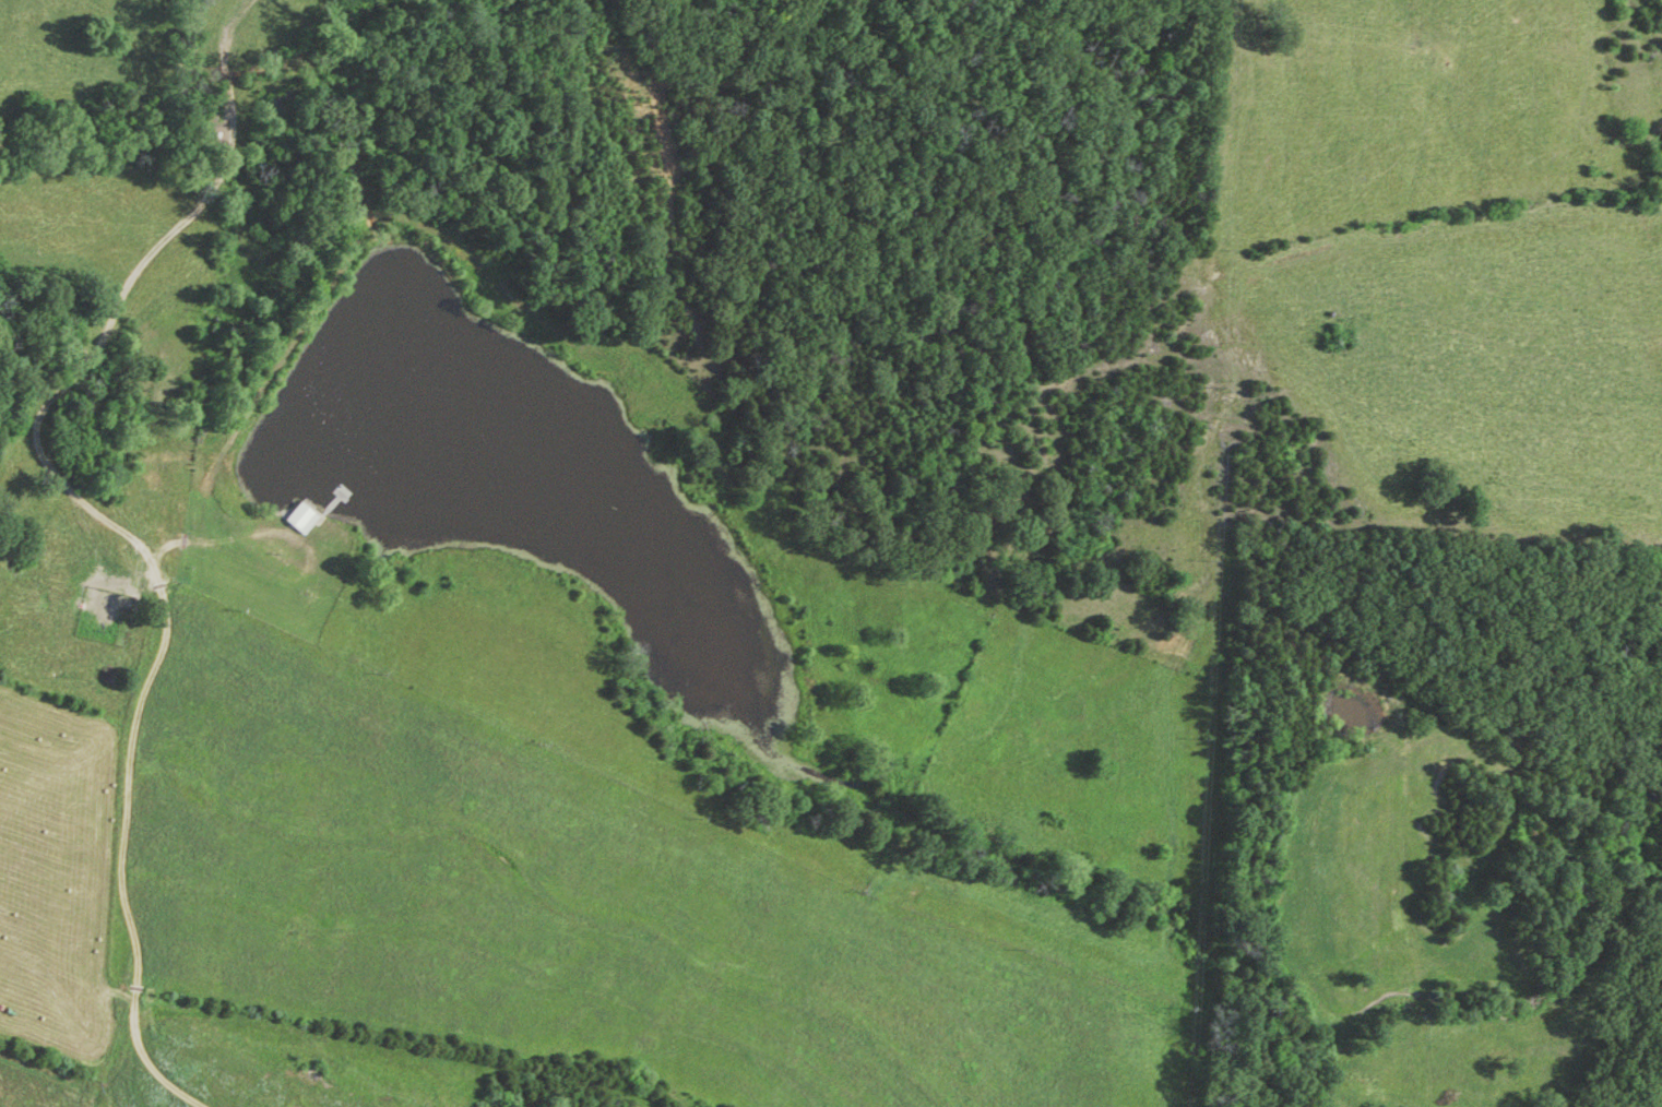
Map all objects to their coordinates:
building: (300, 521)
road: (131, 777)

